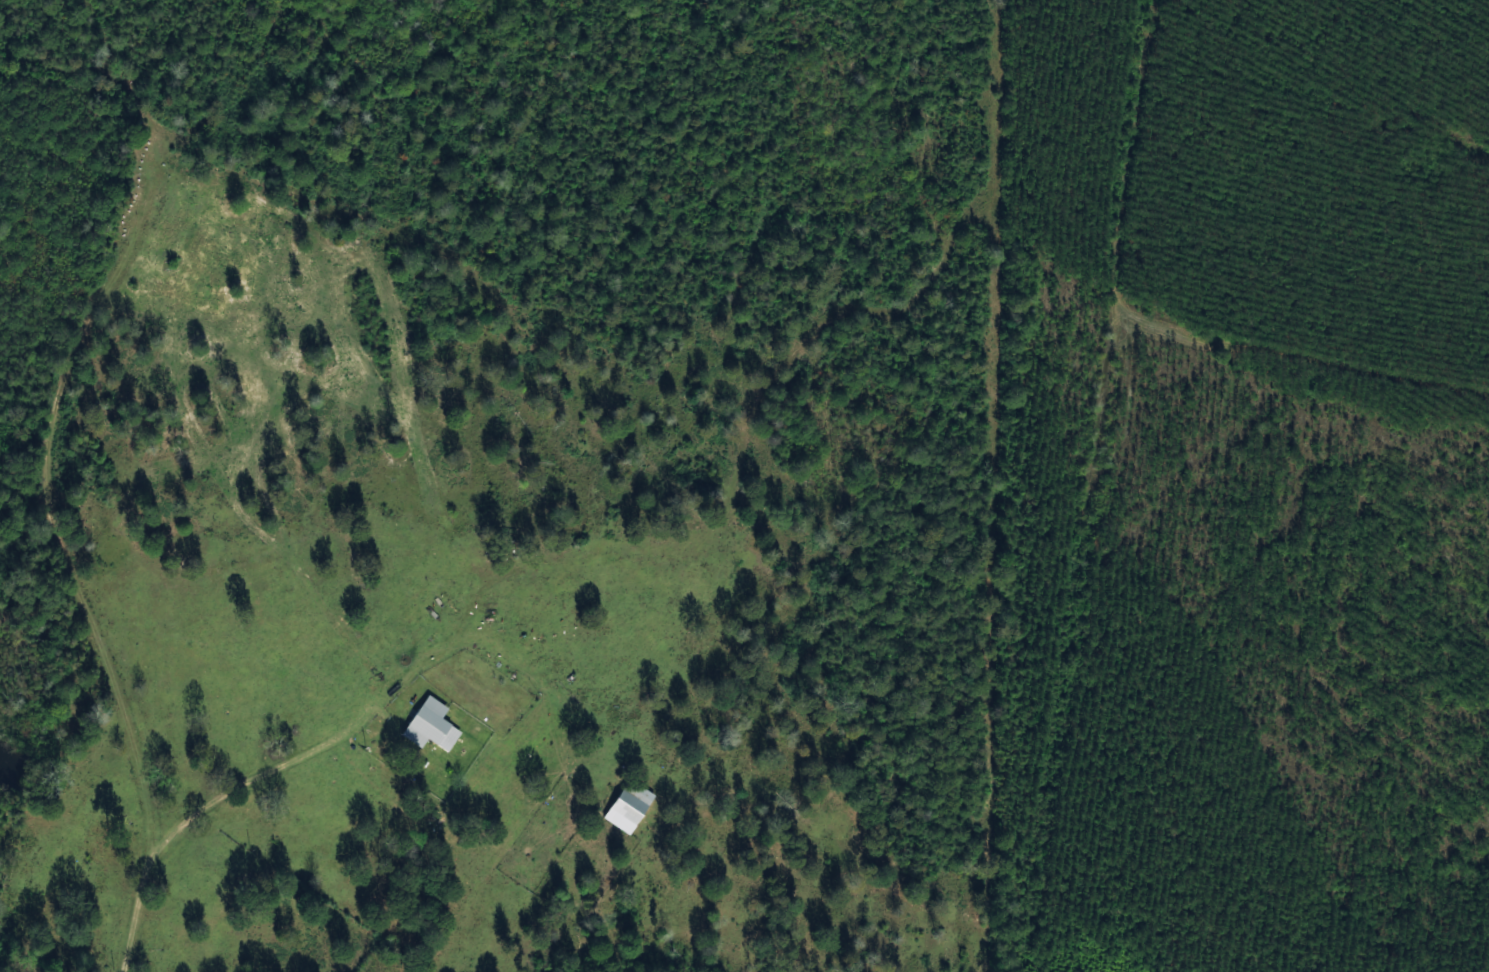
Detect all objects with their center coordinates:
building: (431, 725)
road: (1101, 783)
building: (628, 806)
road: (1286, 840)
road: (1116, 951)

